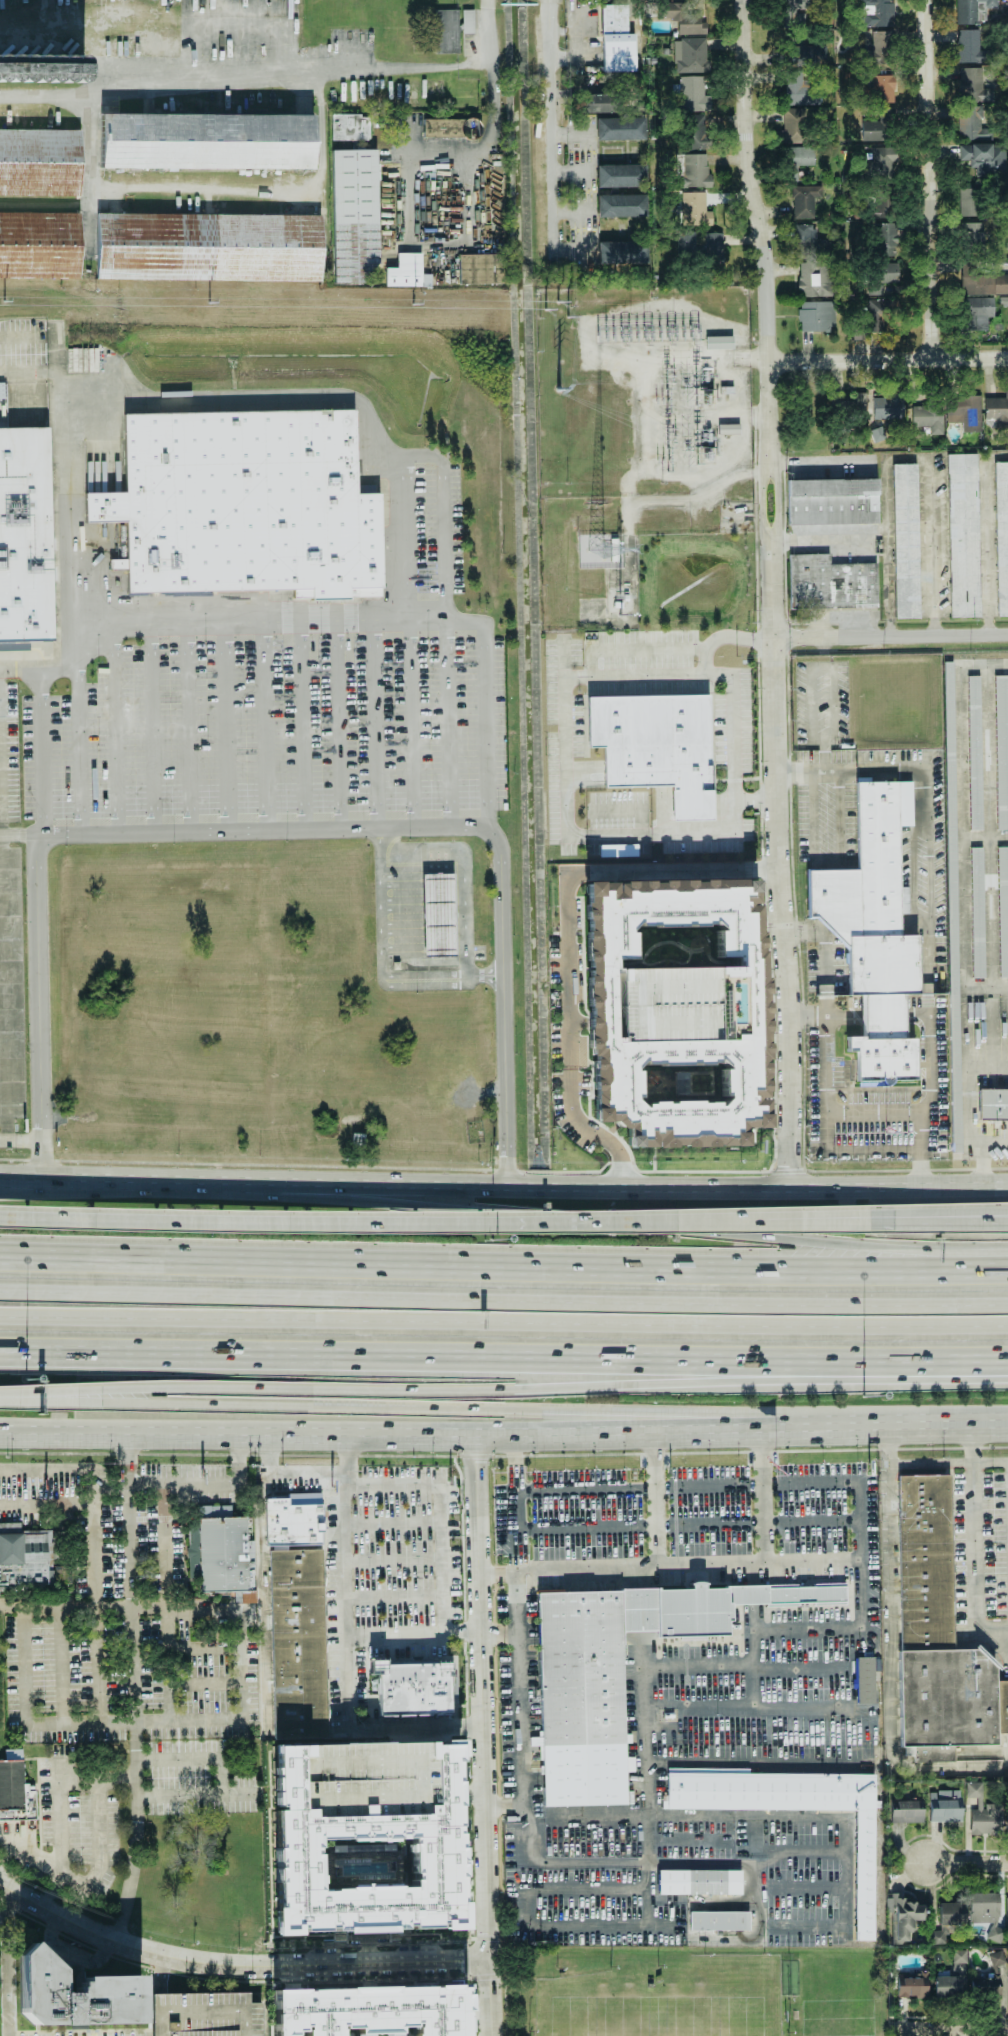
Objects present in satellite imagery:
building: (973, 10)
building: (796, 13)
building: (877, 14)
building: (684, 17)
building: (468, 21)
building: (446, 31)
road: (68, 38)
building: (616, 39)
building: (880, 43)
road: (488, 47)
building: (971, 47)
building: (805, 54)
building: (691, 55)
building: (42, 67)
road: (244, 81)
building: (974, 85)
building: (883, 88)
building: (799, 89)
building: (694, 94)
building: (600, 103)
building: (793, 125)
building: (879, 126)
building: (350, 127)
building: (450, 128)
building: (620, 128)
building: (697, 131)
road: (573, 133)
building: (206, 141)
road: (553, 143)
road: (409, 145)
building: (801, 155)
building: (981, 158)
building: (39, 162)
road: (443, 162)
building: (694, 170)
road: (573, 171)
building: (621, 175)
road: (930, 179)
building: (804, 201)
building: (968, 201)
road: (469, 205)
building: (621, 205)
building: (695, 206)
building: (354, 215)
building: (972, 233)
building: (885, 237)
building: (685, 242)
building: (809, 242)
building: (713, 243)
building: (39, 244)
building: (208, 247)
building: (621, 252)
building: (481, 268)
building: (407, 271)
building: (882, 276)
building: (814, 279)
building: (985, 284)
power tower: (4, 301)
power tower: (210, 302)
power tower: (413, 305)
power tower: (554, 305)
building: (879, 312)
building: (978, 312)
building: (816, 316)
building: (719, 342)
road: (889, 359)
road: (46, 371)
power substation: (642, 388)
power tower: (559, 390)
road: (222, 401)
building: (888, 406)
building: (997, 410)
building: (964, 412)
building: (728, 429)
road: (667, 450)
road: (997, 457)
road: (820, 464)
building: (242, 500)
building: (831, 502)
road: (706, 512)
road: (442, 516)
road: (887, 527)
building: (25, 535)
building: (963, 535)
building: (1001, 536)
road: (832, 539)
building: (905, 540)
road: (989, 546)
road: (935, 547)
building: (831, 583)
road: (775, 592)
road: (234, 620)
road: (891, 636)
road: (832, 667)
road: (18, 672)
road: (733, 709)
road: (412, 722)
road: (448, 722)
road: (265, 723)
parking lot: (268, 723)
road: (303, 723)
road: (339, 723)
road: (376, 723)
road: (153, 724)
road: (188, 724)
road: (226, 724)
road: (117, 725)
building: (657, 746)
building: (1001, 749)
road: (81, 751)
building: (974, 752)
road: (564, 757)
road: (926, 799)
road: (956, 823)
building: (950, 826)
road: (246, 827)
building: (617, 850)
road: (421, 853)
road: (829, 865)
road: (577, 871)
road: (914, 874)
road: (502, 902)
building: (1003, 909)
building: (977, 912)
road: (465, 914)
building: (445, 916)
road: (35, 925)
road: (805, 932)
building: (873, 933)
road: (826, 941)
road: (380, 962)
building: (676, 1010)
road: (809, 1016)
road: (983, 1036)
road: (931, 1049)
building: (955, 1087)
building: (992, 1103)
road: (875, 1108)
road: (961, 1114)
road: (591, 1131)
road: (827, 1141)
road: (987, 1165)
road: (103, 1180)
road: (607, 1186)
road: (949, 1217)
road: (943, 1219)
road: (439, 1222)
road: (606, 1222)
road: (503, 1265)
road: (503, 1300)
road: (503, 1321)
road: (499, 1356)
road: (1003, 1363)
road: (549, 1386)
road: (50, 1391)
road: (49, 1399)
road: (495, 1407)
road: (949, 1423)
road: (22, 1430)
road: (22, 1433)
road: (468, 1435)
road: (991, 1461)
road: (416, 1468)
road: (47, 1471)
road: (529, 1490)
road: (177, 1494)
road: (761, 1498)
helipad: (99, 1499)
road: (658, 1501)
road: (47, 1506)
building: (307, 1517)
road: (689, 1523)
road: (974, 1551)
building: (230, 1556)
building: (30, 1561)
road: (672, 1568)
parking lot: (394, 1584)
road: (95, 1598)
road: (120, 1605)
road: (395, 1608)
road: (863, 1608)
parking lot: (136, 1609)
road: (430, 1609)
road: (1004, 1630)
building: (936, 1634)
building: (297, 1643)
road: (204, 1647)
road: (891, 1651)
road: (351, 1654)
road: (26, 1664)
road: (711, 1664)
road: (167, 1665)
road: (61, 1666)
road: (241, 1666)
building: (615, 1671)
building: (866, 1680)
road: (204, 1683)
building: (411, 1688)
road: (134, 1689)
road: (267, 1700)
road: (134, 1725)
road: (484, 1736)
building: (13, 1754)
road: (756, 1761)
road: (96, 1775)
road: (222, 1777)
building: (25, 1791)
road: (645, 1794)
road: (238, 1795)
building: (945, 1805)
building: (906, 1811)
building: (983, 1812)
road: (665, 1819)
building: (1007, 1823)
road: (56, 1826)
parking lot: (82, 1830)
road: (100, 1833)
building: (367, 1841)
road: (967, 1862)
road: (567, 1863)
road: (38, 1864)
building: (363, 1868)
building: (863, 1875)
building: (700, 1884)
road: (846, 1910)
building: (986, 1912)
building: (951, 1913)
building: (904, 1915)
building: (719, 1920)
road: (529, 1921)
building: (940, 1935)
road: (72, 1951)
building: (959, 1956)
building: (997, 1958)
road: (9, 1962)
road: (235, 1965)
road: (161, 1974)
building: (912, 1984)
building: (946, 1986)
building: (986, 1986)
building: (75, 1992)
park: (719, 1997)
building: (370, 2003)
park: (589, 2006)
building: (204, 2014)
road: (949, 2030)

